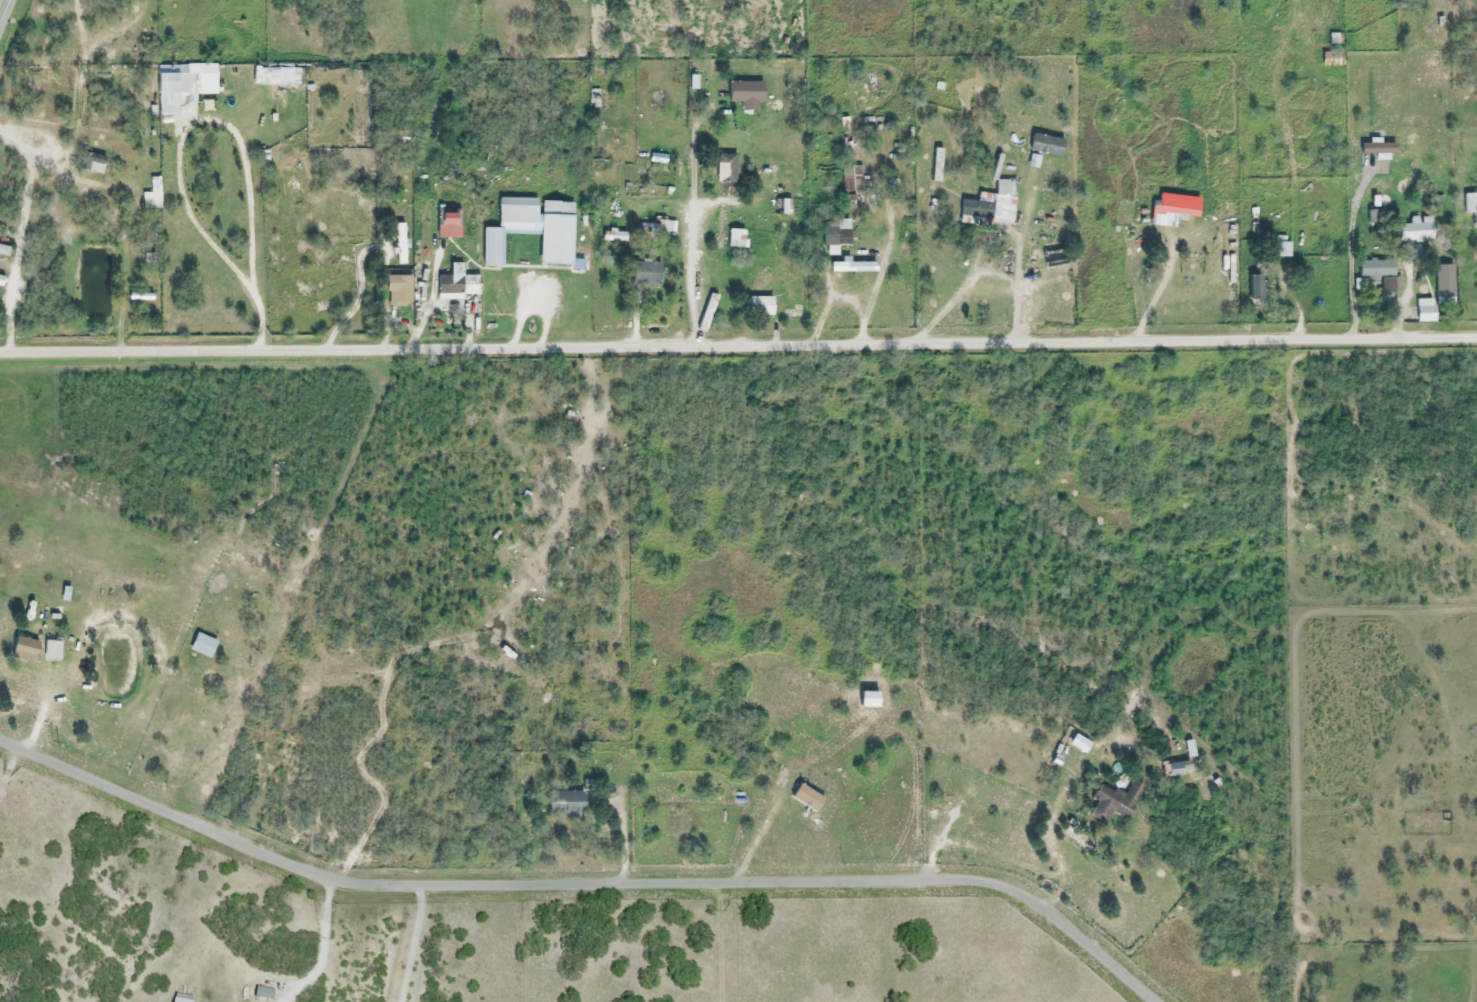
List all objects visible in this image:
building: (531, 0)
road: (2, 5)
building: (1331, 59)
building: (183, 84)
building: (734, 93)
building: (1043, 145)
building: (92, 163)
building: (936, 165)
building: (726, 169)
building: (851, 179)
road: (864, 188)
building: (152, 196)
building: (1469, 204)
building: (992, 205)
building: (780, 207)
building: (448, 223)
building: (533, 229)
building: (1417, 229)
road: (1188, 231)
building: (835, 233)
building: (736, 238)
building: (1165, 239)
building: (400, 243)
building: (1281, 249)
building: (4, 250)
building: (1379, 273)
building: (646, 274)
building: (1, 281)
building: (1444, 282)
building: (457, 284)
building: (1255, 287)
building: (400, 289)
building: (760, 306)
building: (1426, 314)
road: (738, 345)
building: (203, 646)
building: (25, 650)
building: (52, 651)
building: (1174, 769)
building: (807, 798)
building: (1115, 801)
building: (566, 803)
road: (1050, 856)
road: (582, 885)

